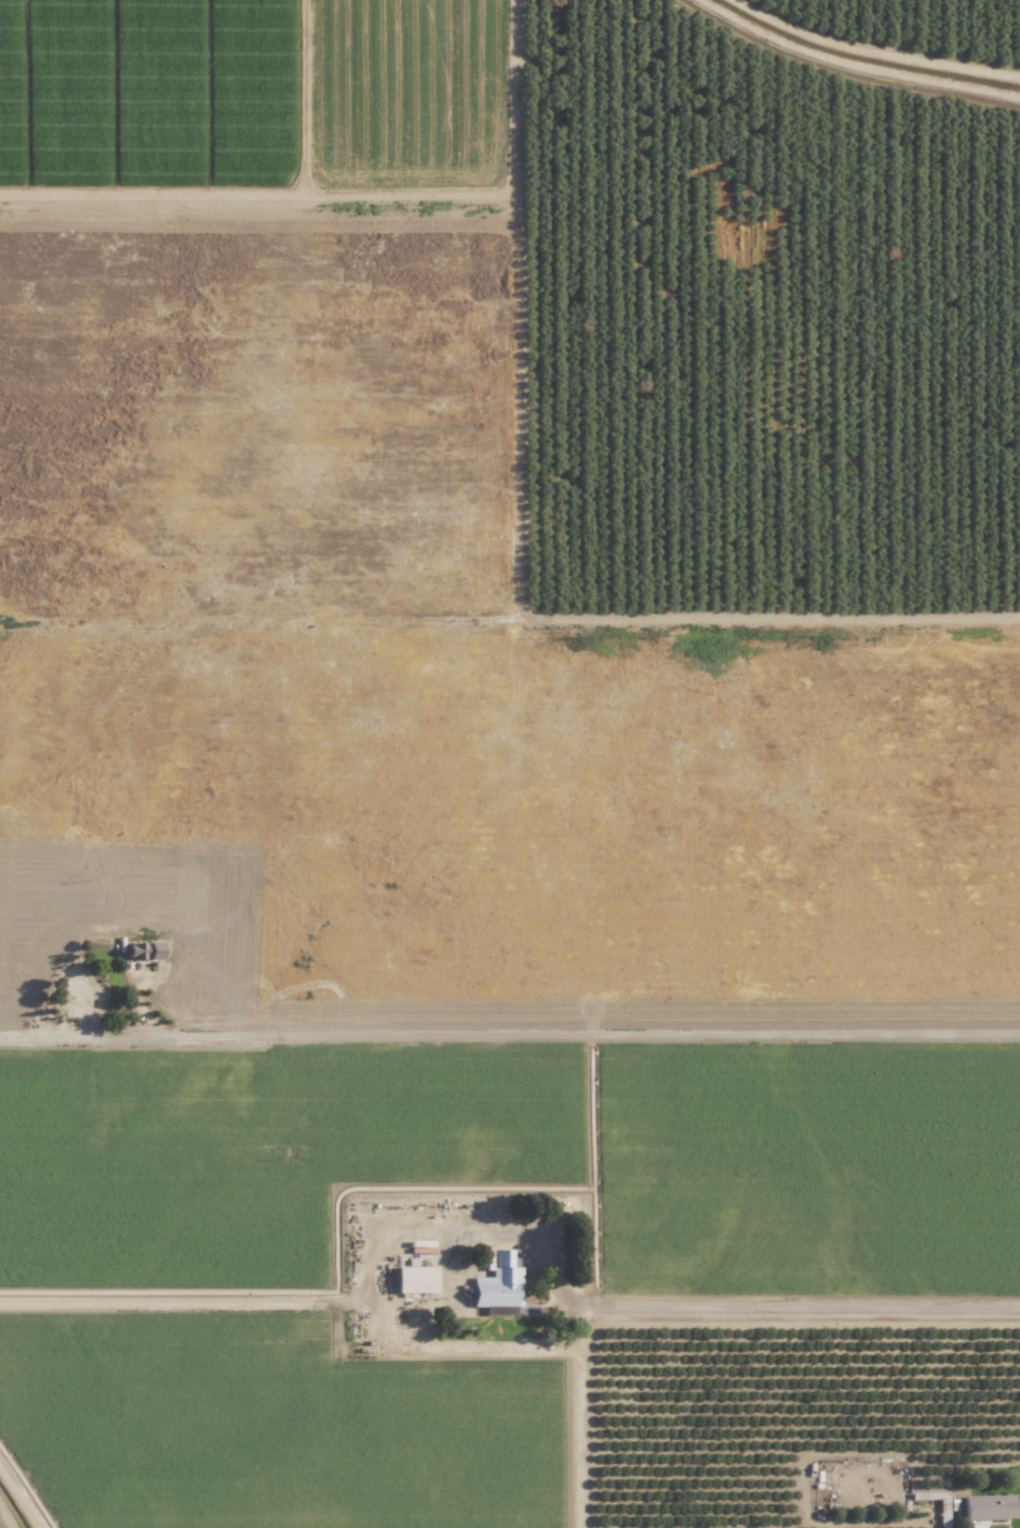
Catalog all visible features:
road: (84, 1036)
road: (594, 1039)
building: (416, 1277)
building: (499, 1281)
road: (180, 1301)
road: (788, 1304)
building: (991, 1505)

